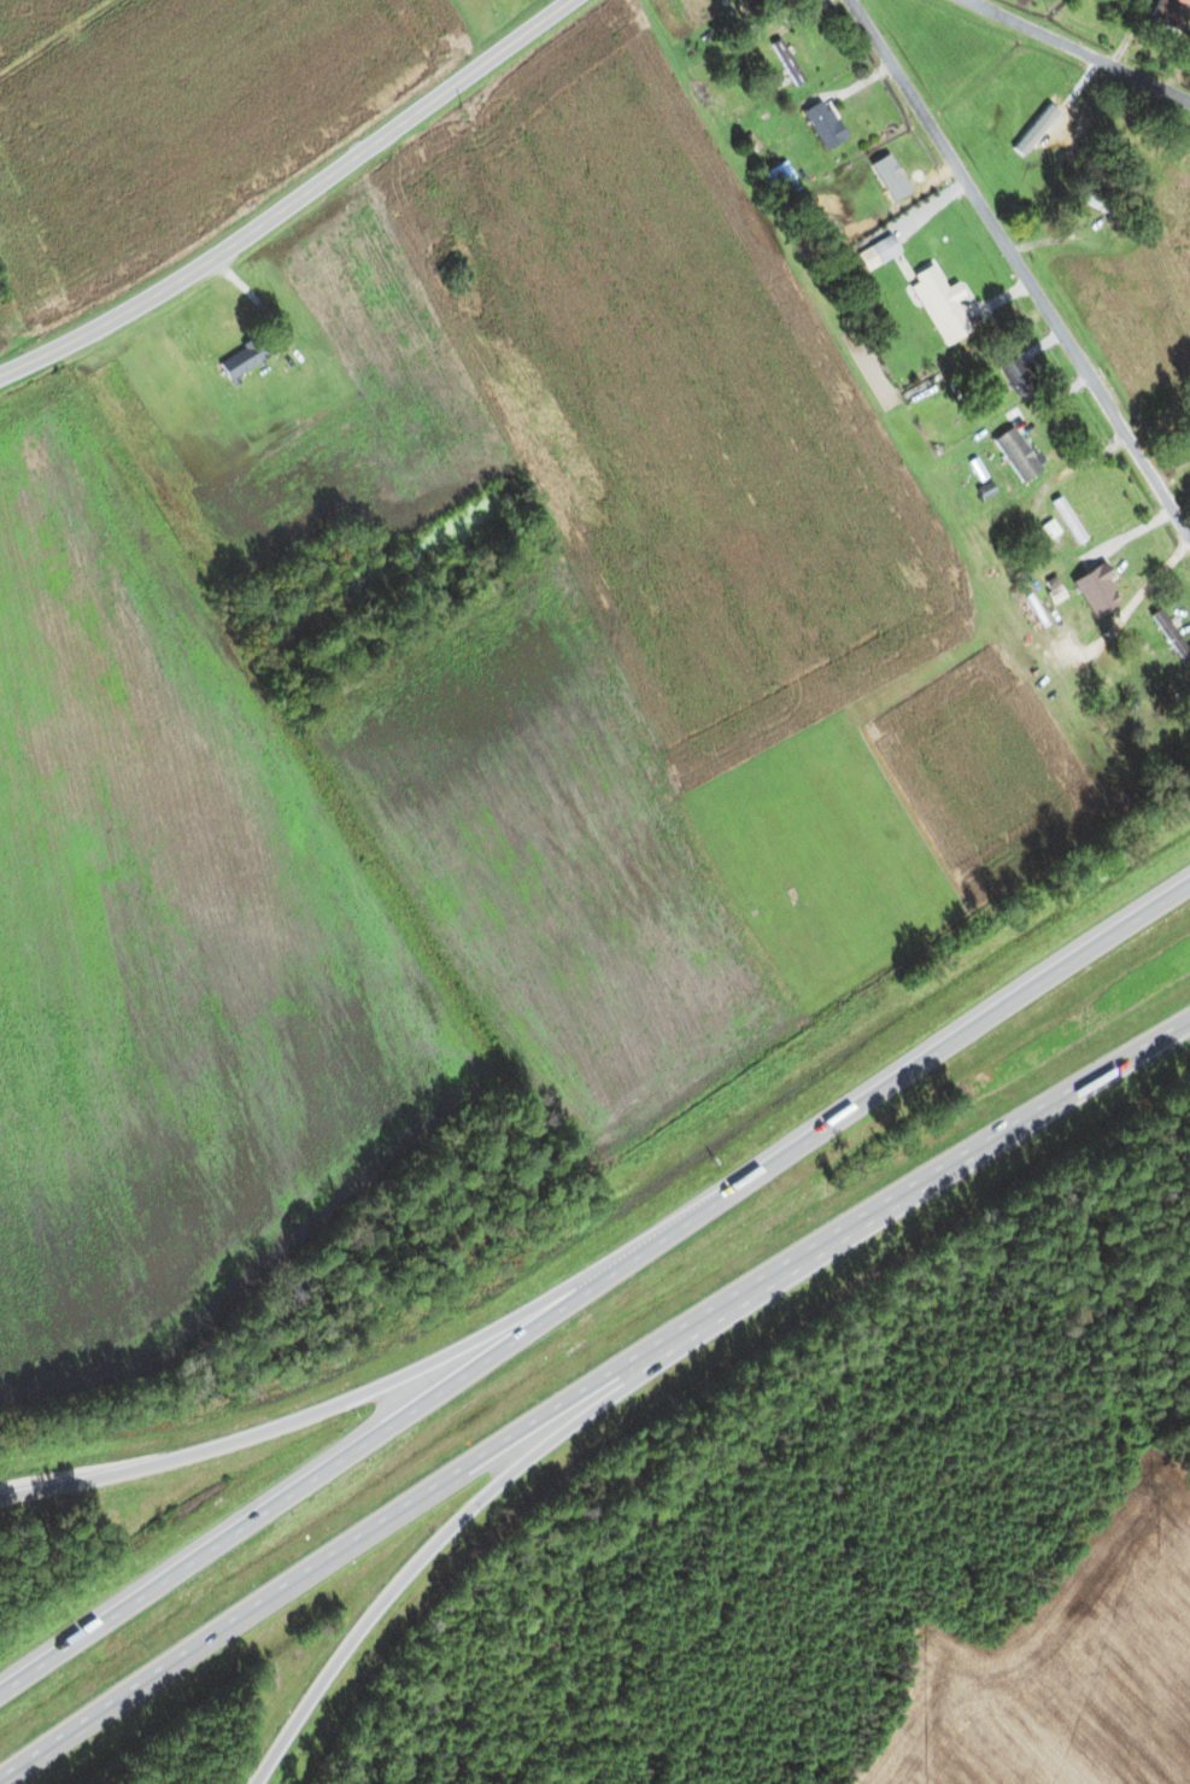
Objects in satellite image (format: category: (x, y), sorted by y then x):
road: (1186, 1)
building: (1171, 11)
road: (1129, 40)
building: (787, 62)
building: (823, 124)
building: (1055, 128)
road: (1048, 153)
building: (892, 176)
road: (293, 200)
building: (1100, 204)
road: (1020, 206)
building: (885, 247)
building: (942, 302)
building: (244, 358)
building: (1019, 376)
building: (1018, 455)
building: (1069, 526)
building: (1107, 584)
building: (1171, 633)
road: (972, 1037)
road: (942, 1185)
road: (395, 1384)
road: (381, 1449)
road: (457, 1538)
road: (353, 1561)

